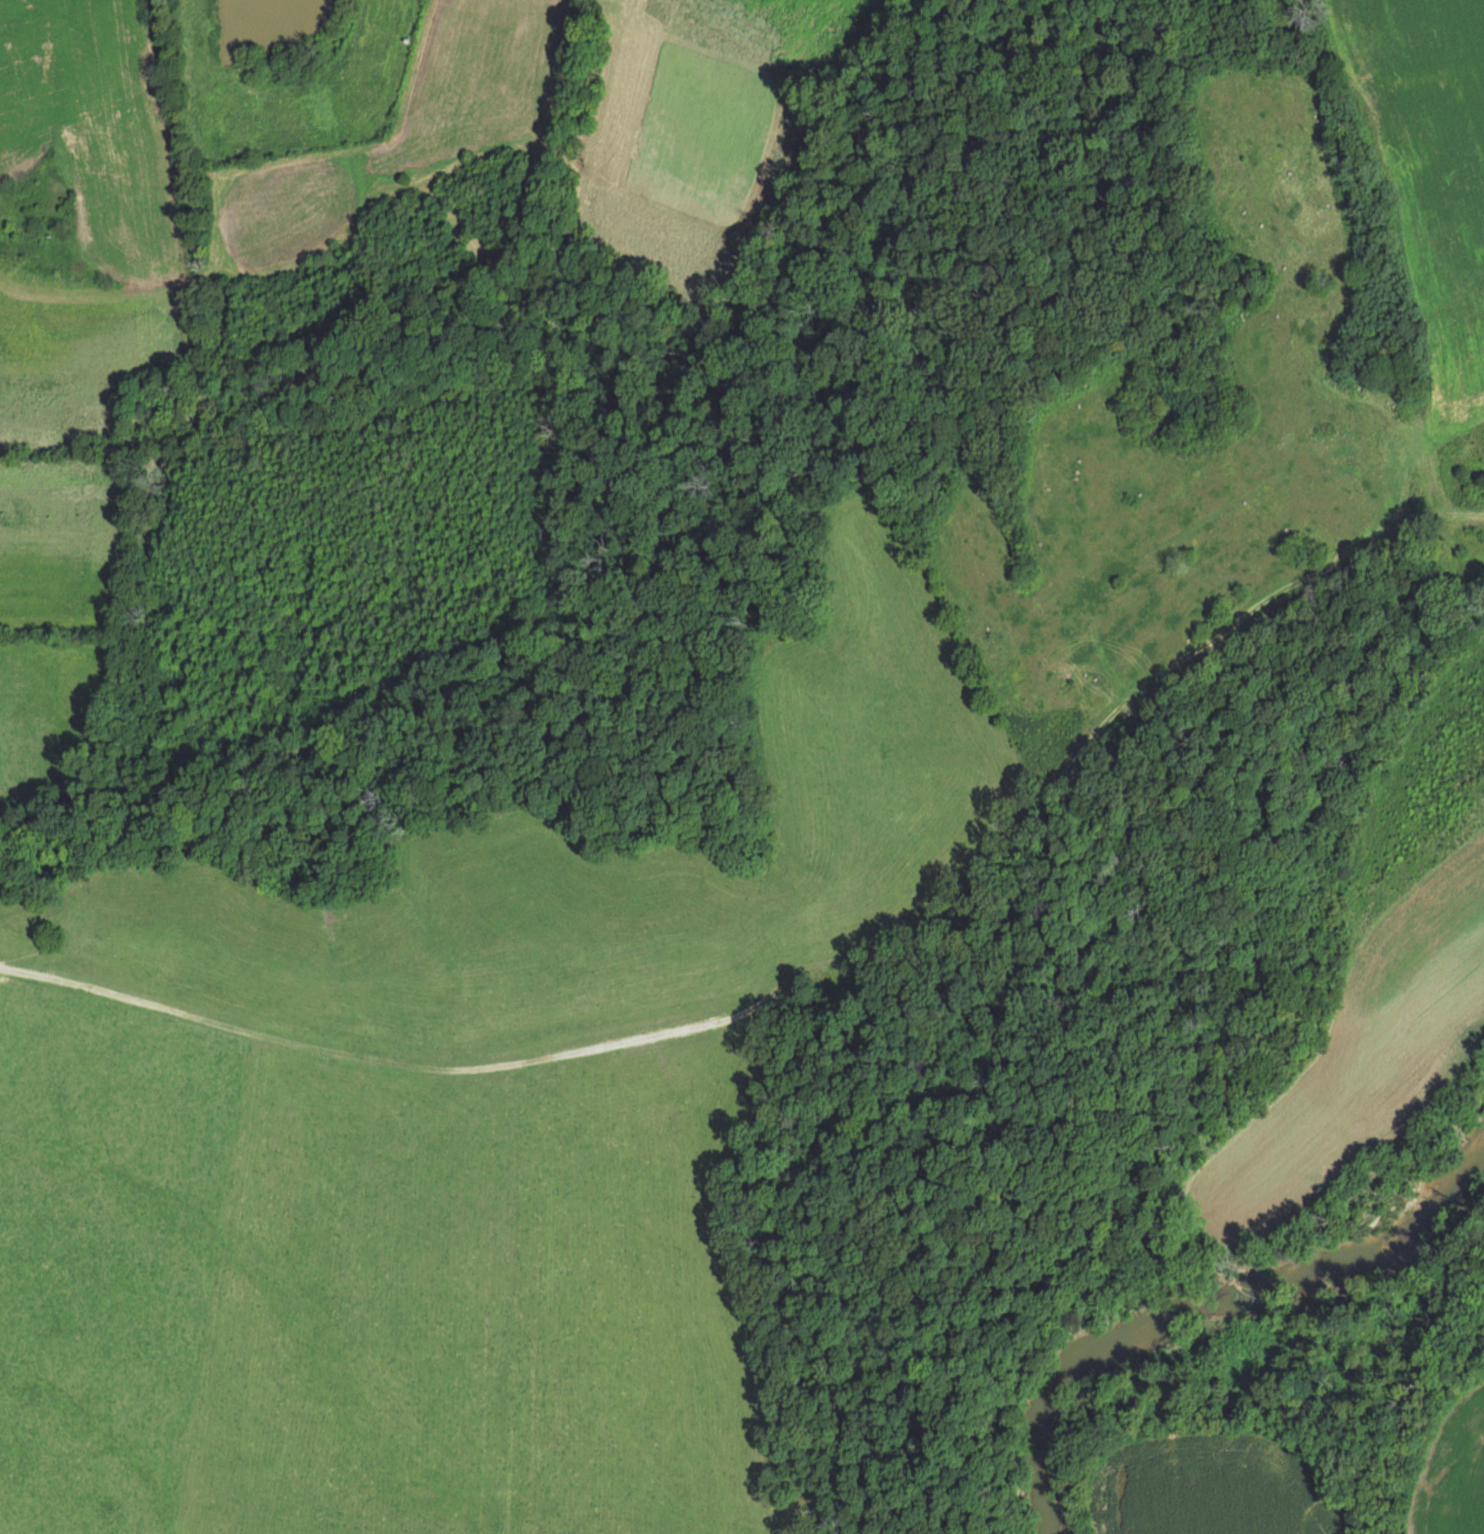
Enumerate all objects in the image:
road: (830, 968)
river: (1212, 1292)

